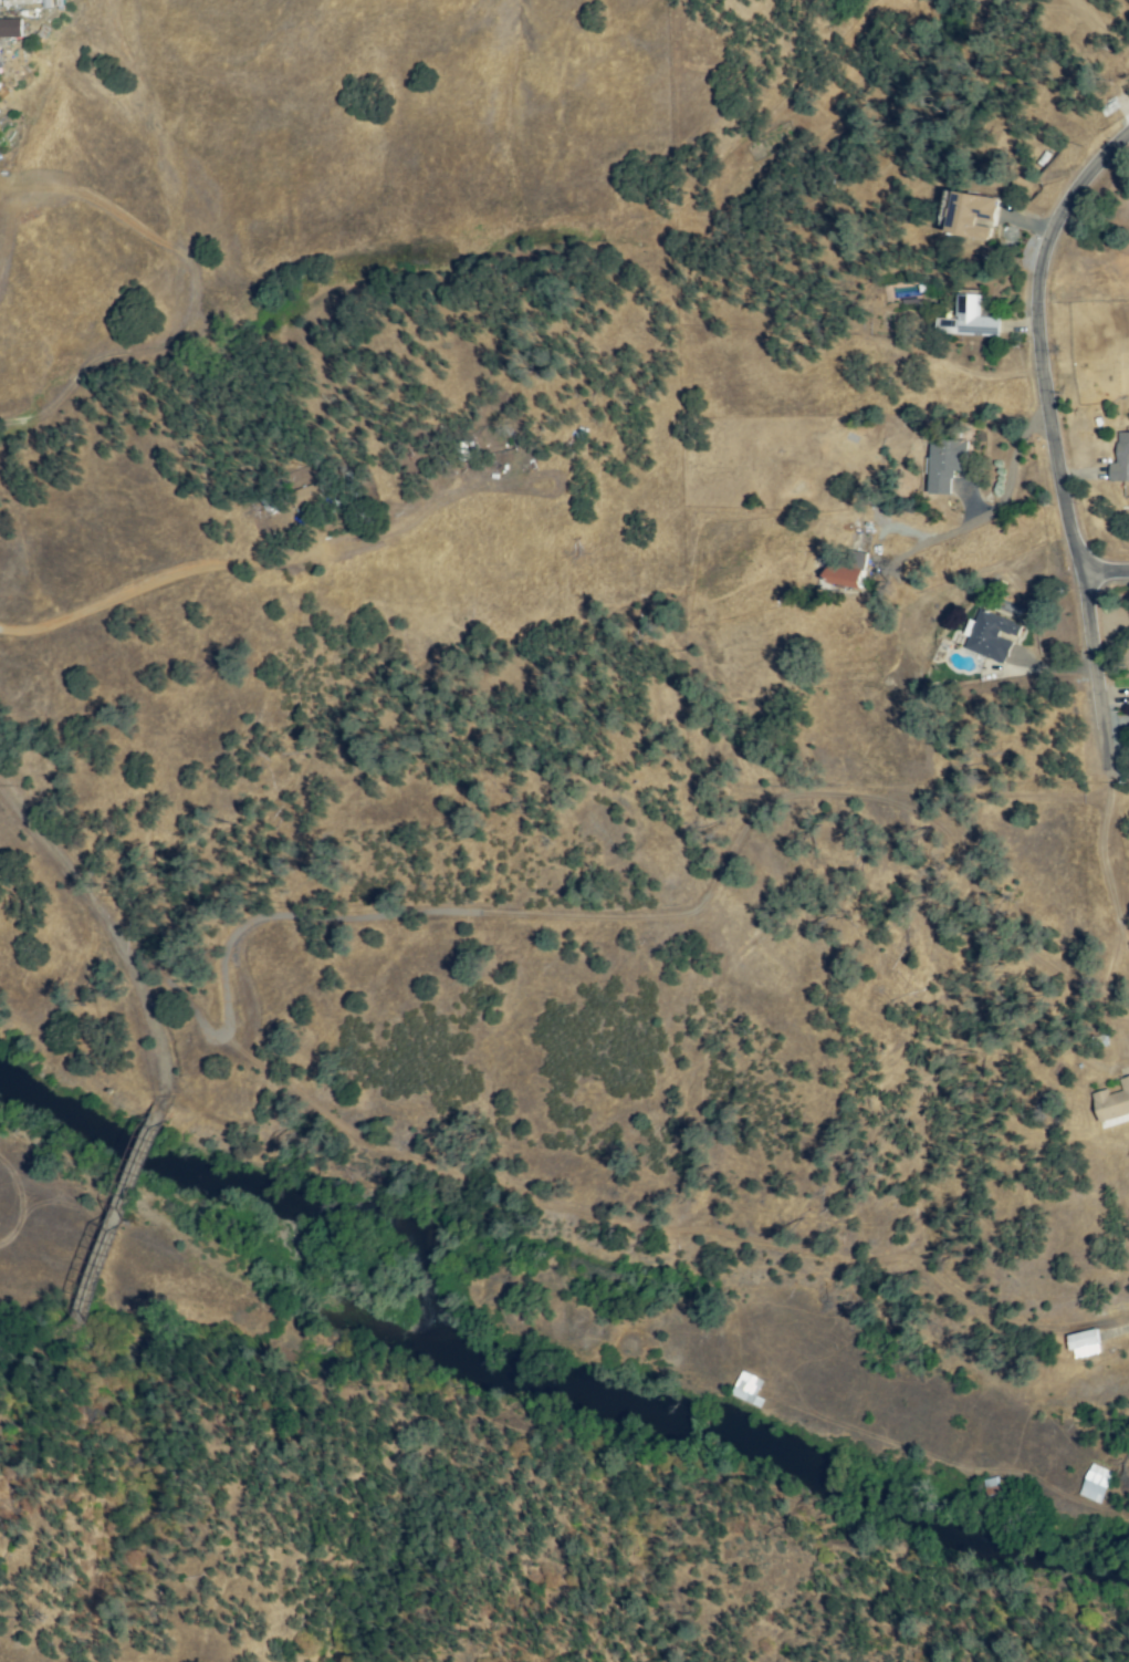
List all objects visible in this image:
building: (10, 28)
building: (972, 216)
building: (975, 318)
road: (1053, 435)
building: (468, 450)
building: (1122, 458)
building: (945, 465)
building: (305, 496)
road: (990, 502)
building: (848, 571)
road: (1106, 574)
building: (991, 636)
road: (1100, 861)
road: (117, 939)
building: (1115, 1104)
road: (118, 1227)
building: (1086, 1343)
road: (44, 1350)
river: (524, 1380)
building: (746, 1391)
building: (1097, 1483)

